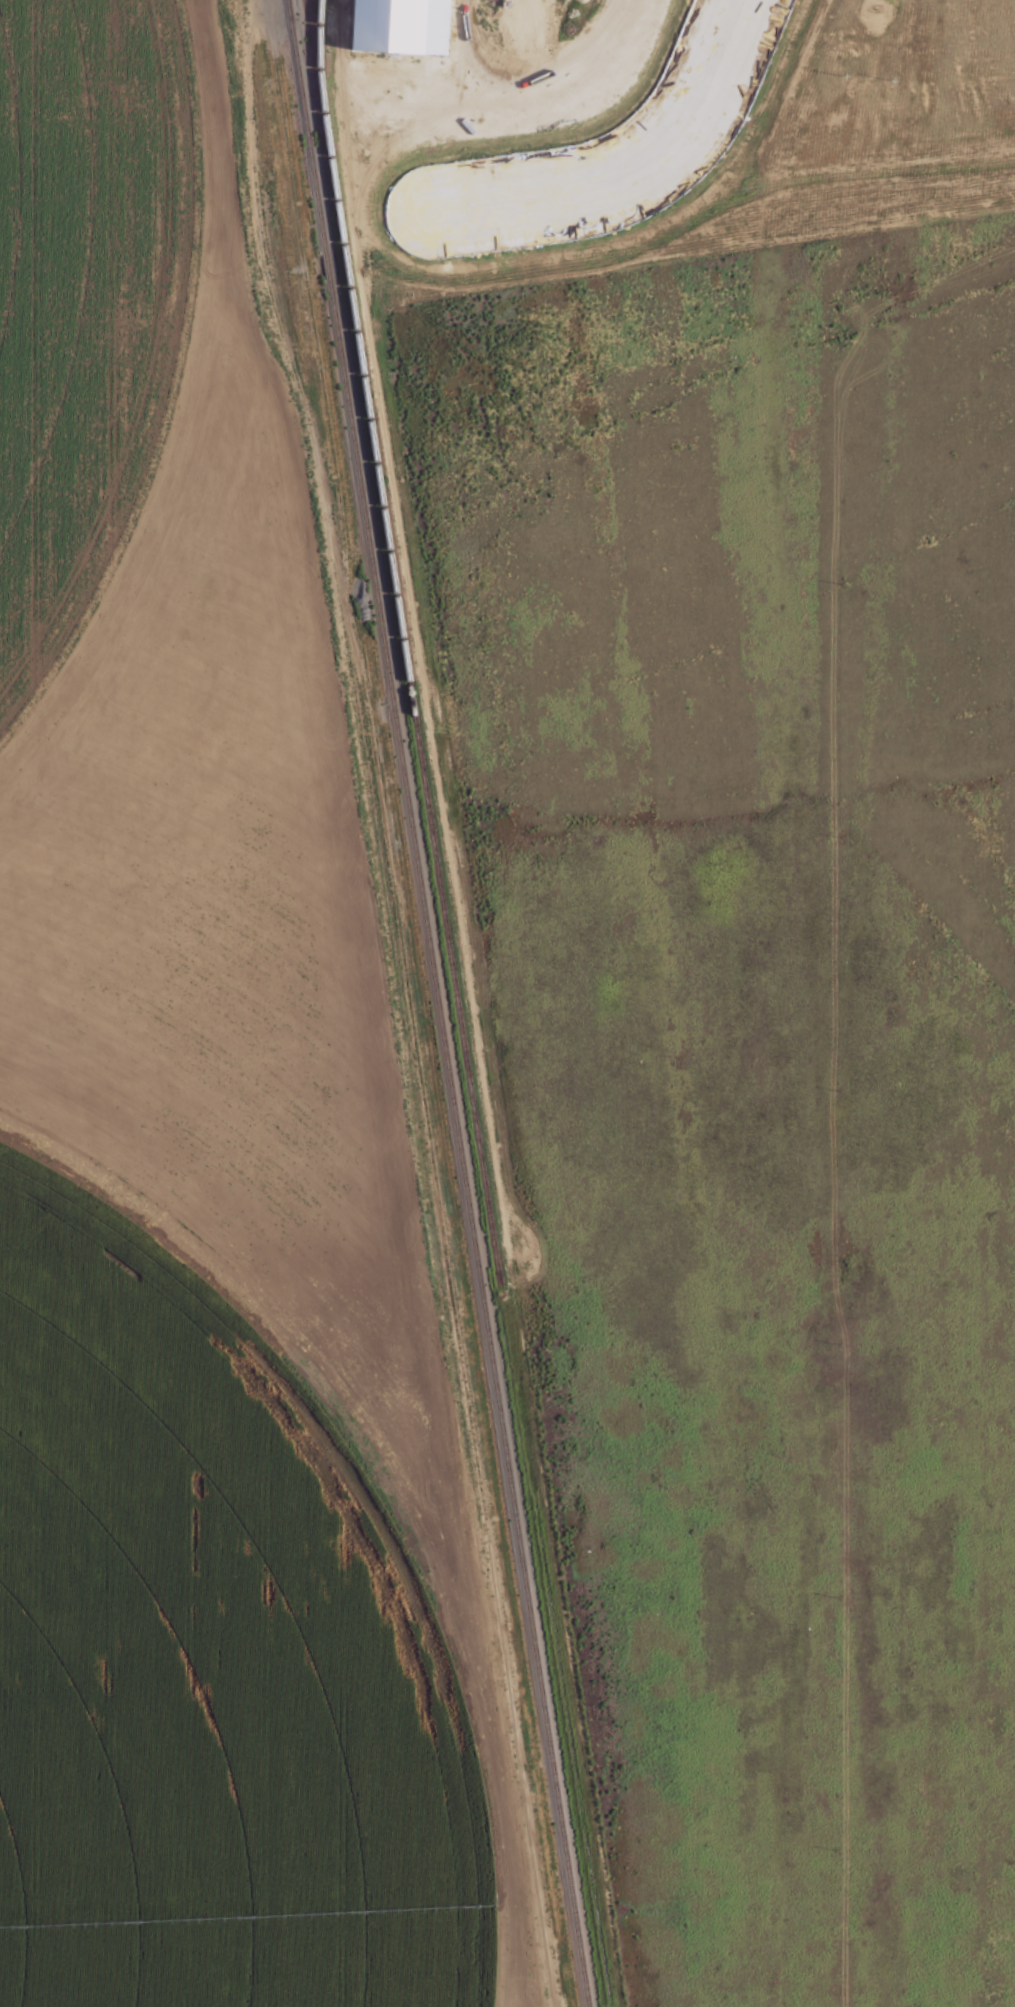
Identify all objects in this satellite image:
railway: (286, 3)
railway: (316, 48)
railway: (401, 644)
railway: (435, 1003)

